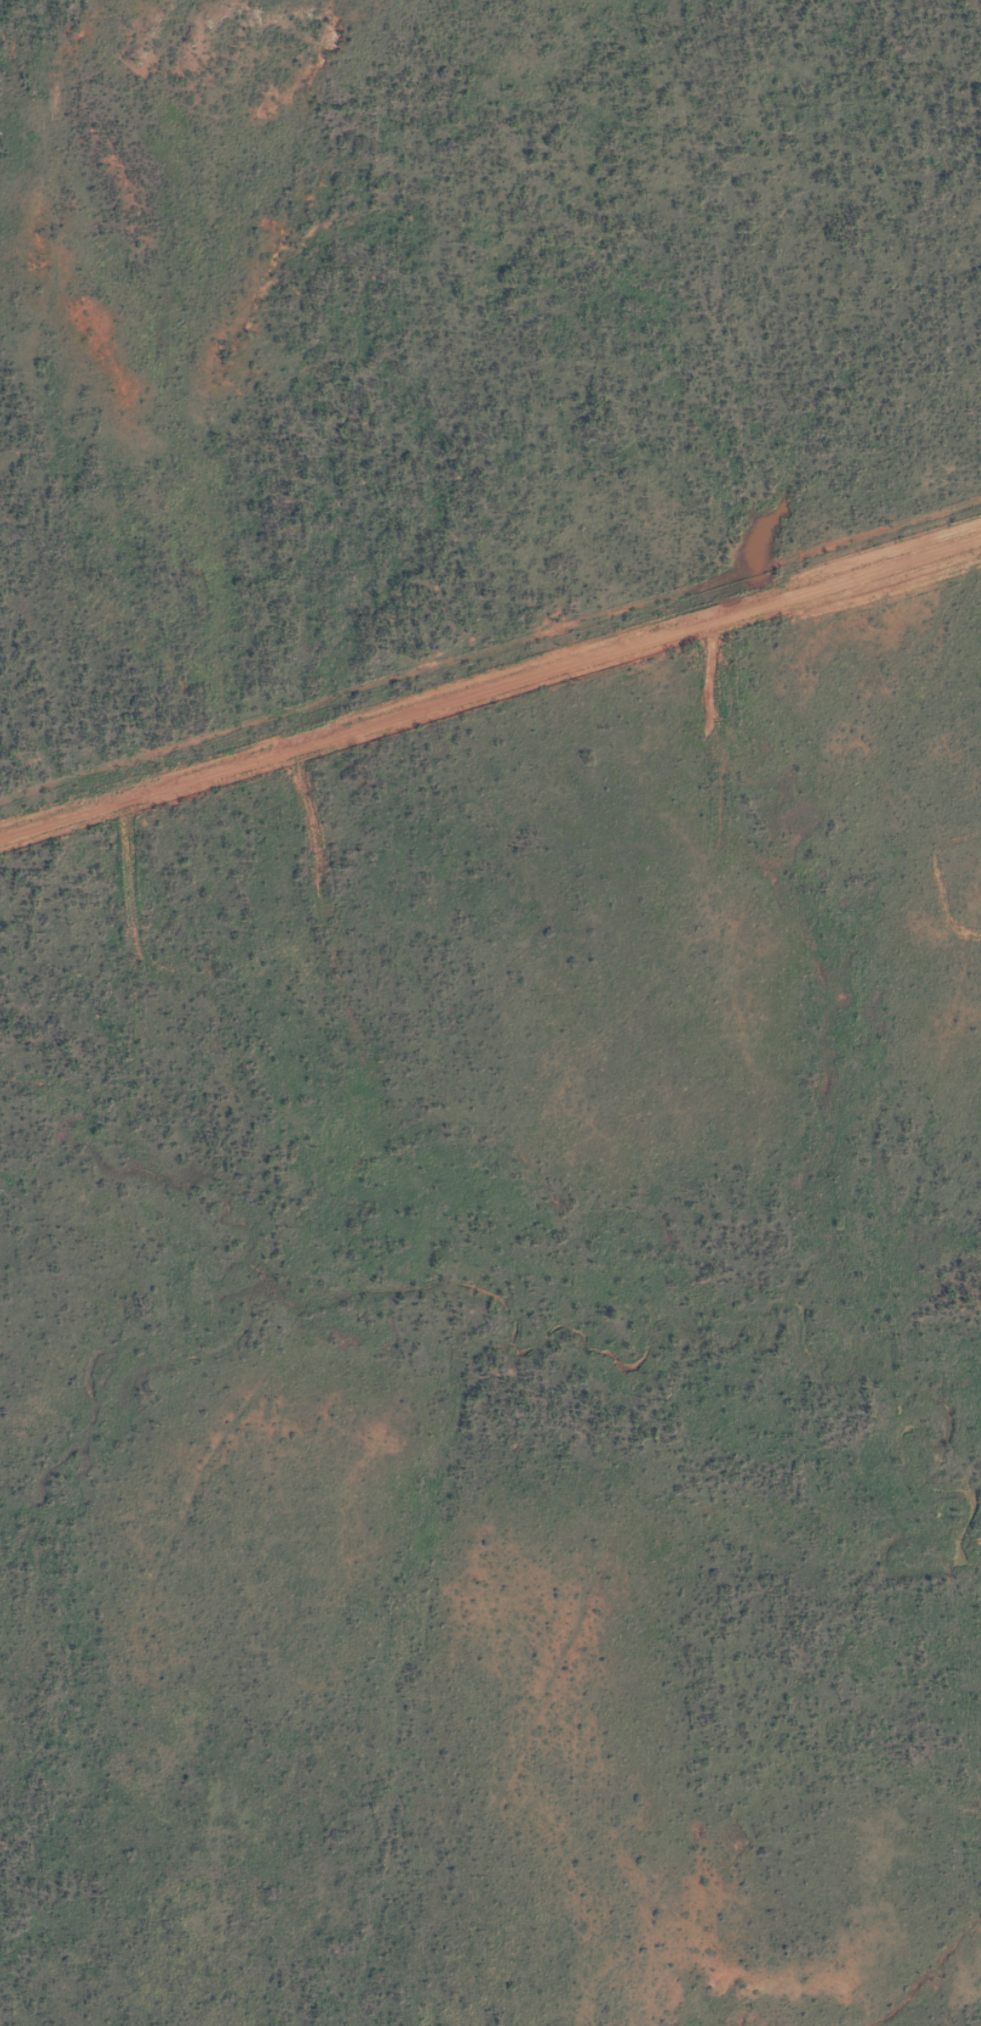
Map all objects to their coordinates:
road: (490, 709)

